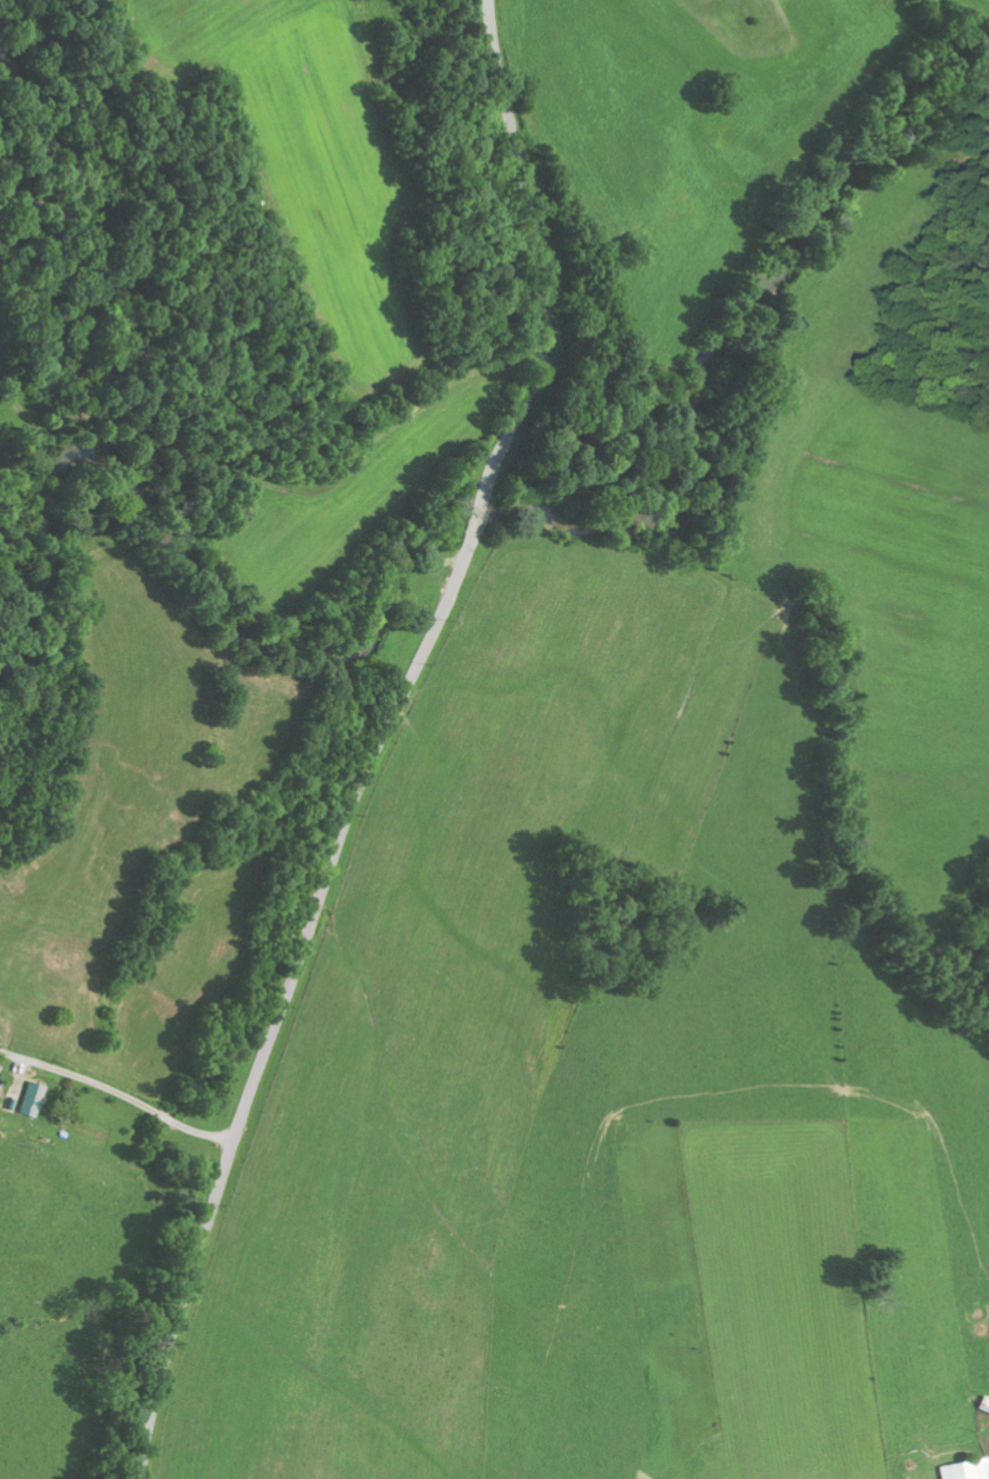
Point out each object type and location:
road: (381, 740)
road: (120, 1073)
building: (29, 1099)
building: (983, 1404)
building: (965, 1470)

